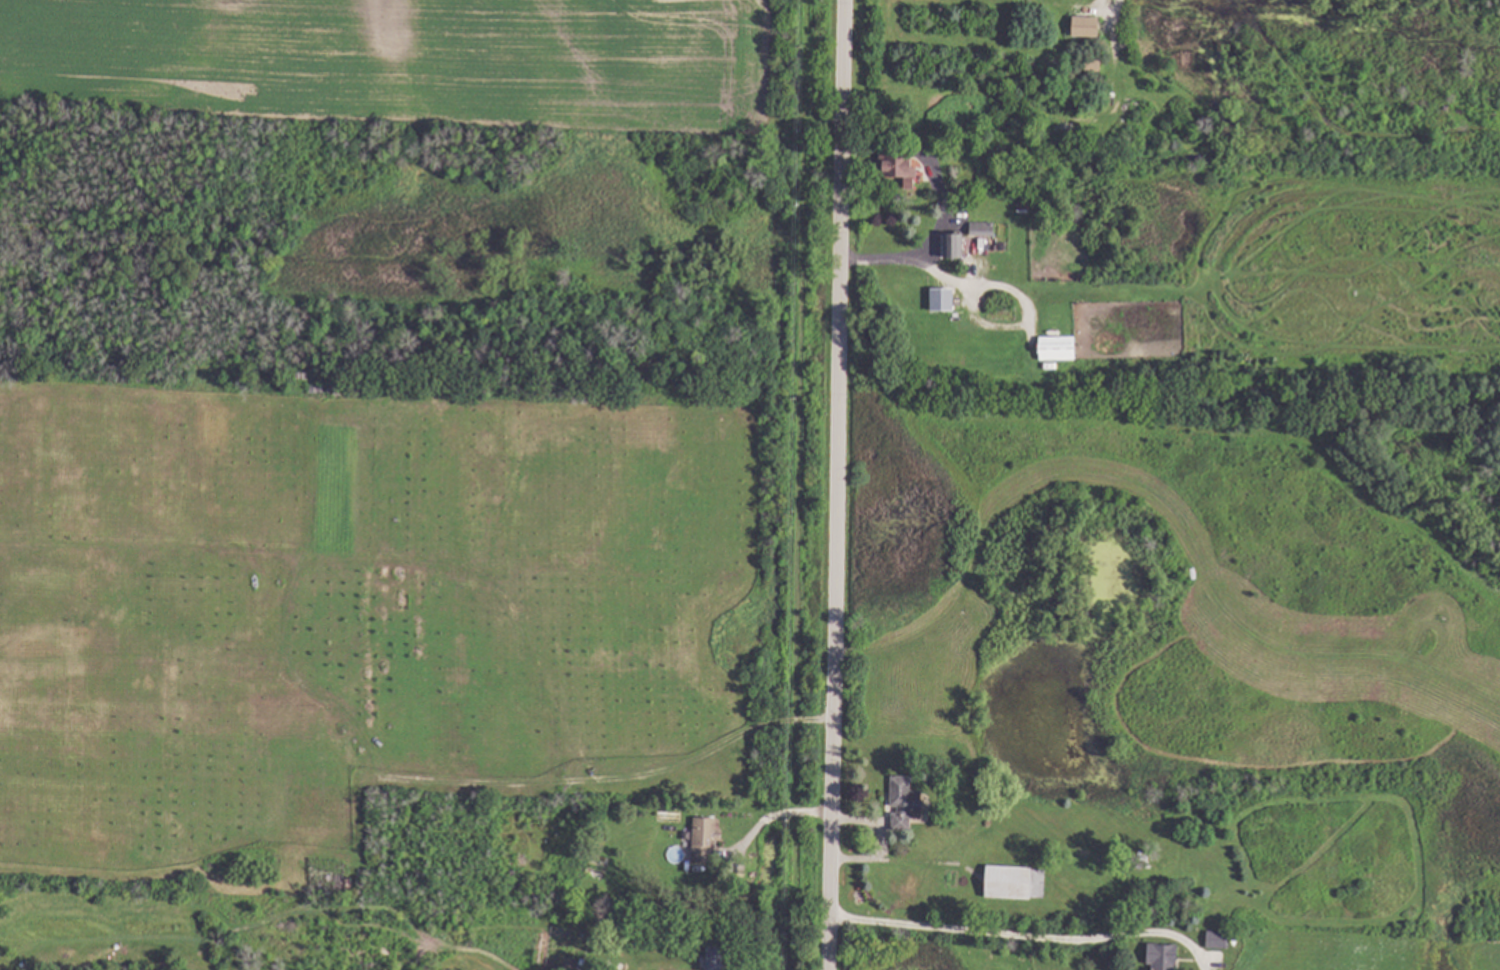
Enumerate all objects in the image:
building: (1082, 27)
crop: (403, 62)
building: (1089, 67)
building: (897, 165)
road: (932, 172)
building: (955, 173)
building: (1022, 206)
building: (983, 229)
building: (954, 245)
road: (939, 277)
building: (938, 299)
building: (1058, 348)
road: (836, 484)
building: (904, 802)
road: (770, 818)
building: (704, 838)
building: (1015, 882)
road: (1023, 937)
building: (1218, 939)
crop: (1362, 951)
building: (717, 954)
building: (1163, 956)

